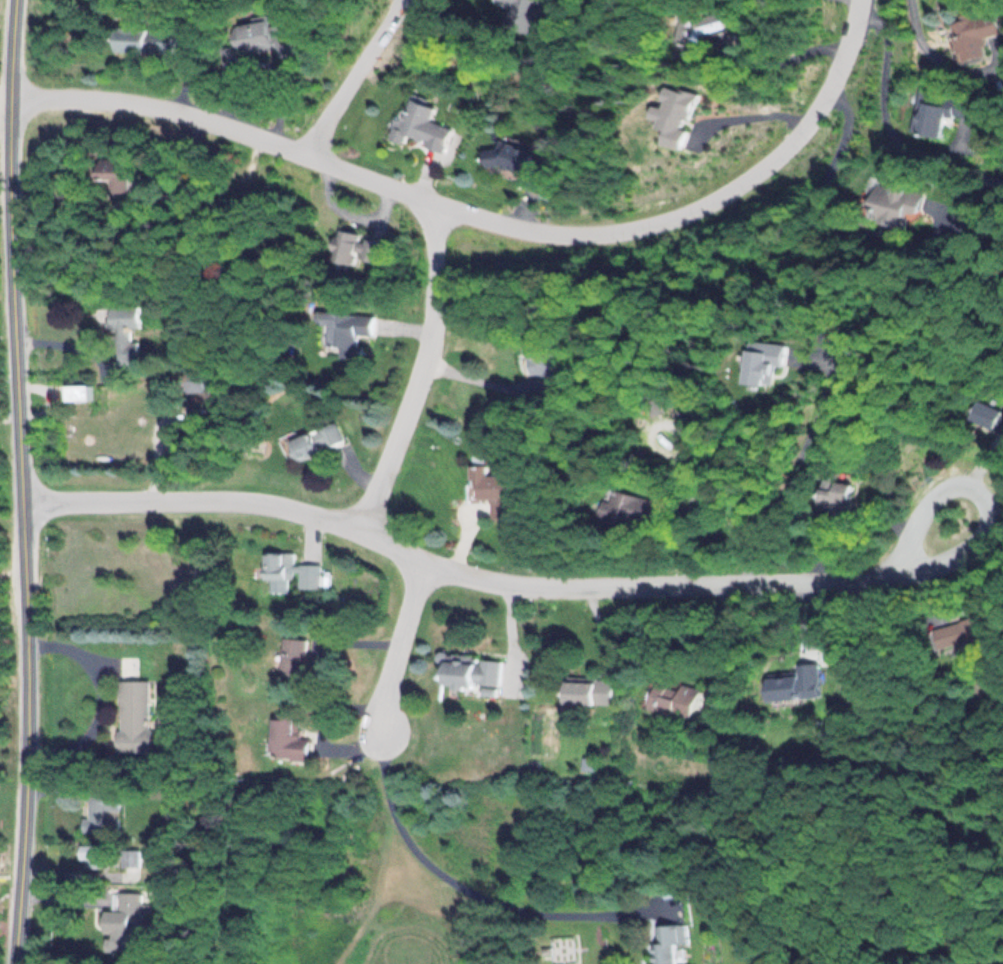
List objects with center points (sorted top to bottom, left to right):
building: (969, 33)
building: (686, 35)
building: (143, 40)
building: (258, 42)
road: (360, 77)
building: (932, 110)
building: (424, 127)
building: (515, 158)
building: (111, 174)
building: (886, 202)
road: (482, 218)
building: (356, 248)
building: (123, 331)
building: (349, 331)
building: (533, 357)
road: (424, 371)
building: (196, 379)
building: (985, 415)
building: (316, 442)
road: (23, 482)
building: (487, 490)
building: (829, 490)
building: (622, 510)
building: (290, 569)
road: (597, 586)
building: (958, 632)
road: (400, 645)
building: (293, 657)
building: (466, 673)
building: (792, 684)
building: (583, 691)
building: (670, 699)
building: (132, 715)
building: (288, 738)
building: (100, 811)
building: (95, 857)
building: (130, 858)
building: (122, 922)
building: (663, 944)

